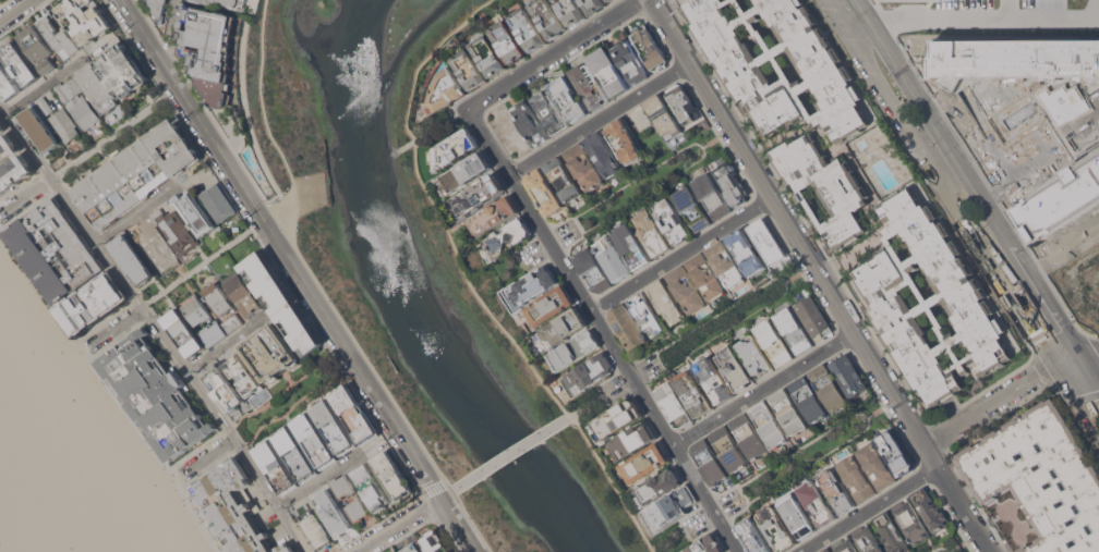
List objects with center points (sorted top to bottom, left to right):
building: (609, 0)
building: (221, 2)
building: (593, 5)
road: (13, 9)
building: (158, 9)
building: (570, 11)
road: (950, 13)
building: (547, 17)
road: (840, 17)
building: (83, 20)
road: (169, 27)
building: (528, 29)
building: (58, 37)
building: (508, 41)
building: (38, 48)
building: (649, 48)
building: (209, 50)
road: (553, 53)
building: (488, 56)
building: (629, 61)
building: (19, 63)
building: (120, 66)
building: (469, 69)
building: (607, 72)
building: (7, 84)
road: (40, 86)
building: (589, 86)
building: (68, 89)
building: (96, 89)
building: (447, 89)
road: (886, 93)
building: (569, 98)
building: (685, 103)
building: (44, 106)
building: (83, 111)
building: (549, 111)
building: (663, 116)
building: (1038, 116)
road: (599, 118)
road: (266, 121)
building: (530, 123)
building: (64, 124)
building: (38, 131)
road: (971, 132)
road: (116, 133)
road: (233, 133)
road: (25, 142)
building: (624, 142)
building: (455, 148)
building: (604, 154)
building: (12, 163)
building: (584, 167)
building: (467, 171)
building: (136, 173)
road: (1019, 174)
road: (967, 175)
building: (564, 179)
road: (943, 182)
building: (730, 183)
road: (640, 185)
building: (544, 192)
building: (856, 193)
building: (480, 194)
road: (25, 196)
building: (712, 196)
building: (219, 203)
building: (692, 208)
building: (195, 212)
road: (136, 214)
building: (494, 216)
building: (672, 220)
building: (176, 229)
building: (136, 230)
building: (652, 233)
road: (978, 236)
building: (507, 237)
building: (765, 241)
building: (632, 246)
building: (55, 249)
building: (159, 250)
building: (746, 252)
road: (681, 254)
building: (612, 258)
building: (131, 259)
road: (203, 262)
building: (725, 263)
building: (592, 270)
road: (301, 275)
road: (820, 275)
building: (705, 277)
road: (468, 281)
building: (533, 285)
building: (686, 289)
building: (242, 293)
building: (217, 299)
building: (281, 302)
building: (666, 302)
building: (92, 303)
building: (551, 305)
road: (1025, 308)
building: (645, 312)
building: (813, 318)
building: (203, 319)
building: (232, 322)
road: (724, 322)
building: (627, 327)
road: (114, 328)
building: (563, 328)
road: (602, 329)
building: (794, 330)
building: (183, 333)
building: (774, 343)
road: (225, 344)
road: (1087, 348)
building: (575, 349)
traffic signals: (1075, 352)
building: (270, 353)
road: (1066, 355)
building: (754, 356)
road: (1079, 359)
road: (181, 363)
road: (1062, 365)
road: (1091, 366)
traffic signals: (1085, 367)
building: (735, 368)
road: (1075, 369)
traffic signals: (1066, 371)
building: (589, 372)
building: (242, 375)
building: (848, 375)
road: (1091, 378)
building: (714, 380)
building: (829, 387)
building: (224, 388)
road: (763, 388)
building: (695, 393)
building: (155, 396)
road: (603, 397)
road: (1083, 397)
building: (808, 398)
road: (295, 400)
road: (991, 402)
building: (674, 405)
building: (788, 412)
building: (354, 414)
building: (618, 418)
building: (769, 424)
building: (334, 427)
building: (748, 437)
building: (314, 441)
building: (632, 441)
road: (156, 449)
building: (728, 449)
building: (895, 452)
road: (512, 453)
building: (295, 454)
road: (807, 458)
road: (206, 459)
building: (709, 461)
building: (645, 463)
building: (877, 465)
building: (277, 467)
building: (392, 476)
building: (856, 478)
road: (318, 480)
building: (1038, 482)
building: (343, 486)
building: (372, 487)
building: (659, 487)
building: (835, 490)
road: (448, 494)
building: (817, 502)
building: (671, 506)
building: (929, 507)
building: (230, 508)
road: (868, 508)
building: (358, 510)
building: (333, 513)
building: (796, 514)
building: (910, 522)
road: (399, 525)
building: (313, 527)
road: (699, 527)
building: (777, 528)
building: (891, 533)
building: (754, 536)
building: (868, 539)
building: (435, 542)
building: (706, 544)
building: (844, 544)
road: (967, 544)
building: (287, 547)
building: (413, 548)
building: (825, 550)
building: (398, 551)

